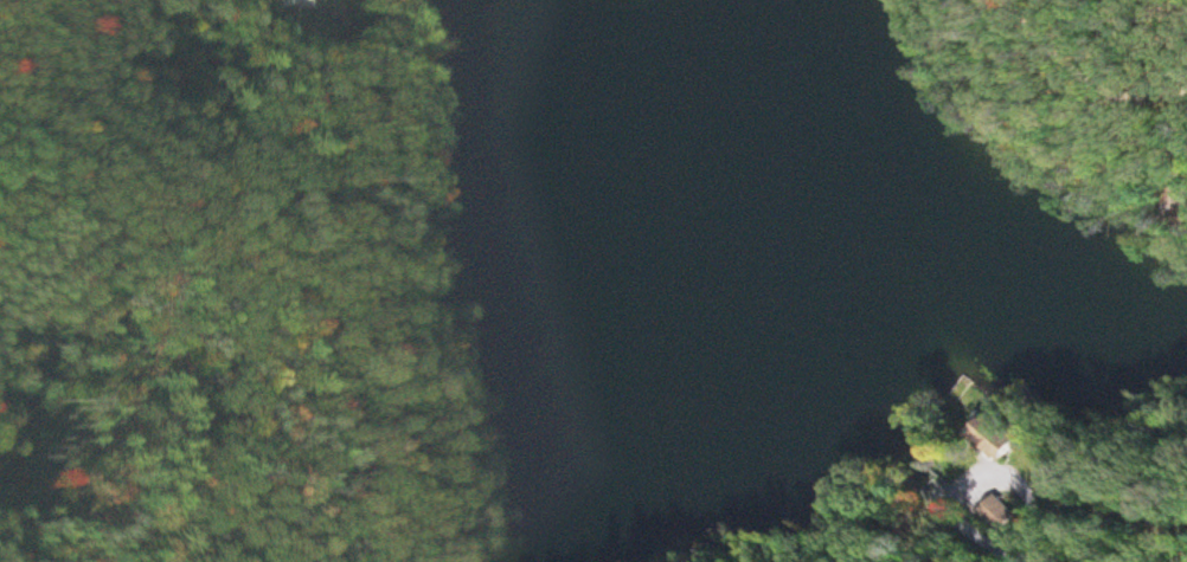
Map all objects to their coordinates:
building: (307, 5)
road: (136, 104)
building: (1008, 440)
building: (999, 516)
road: (1057, 522)

